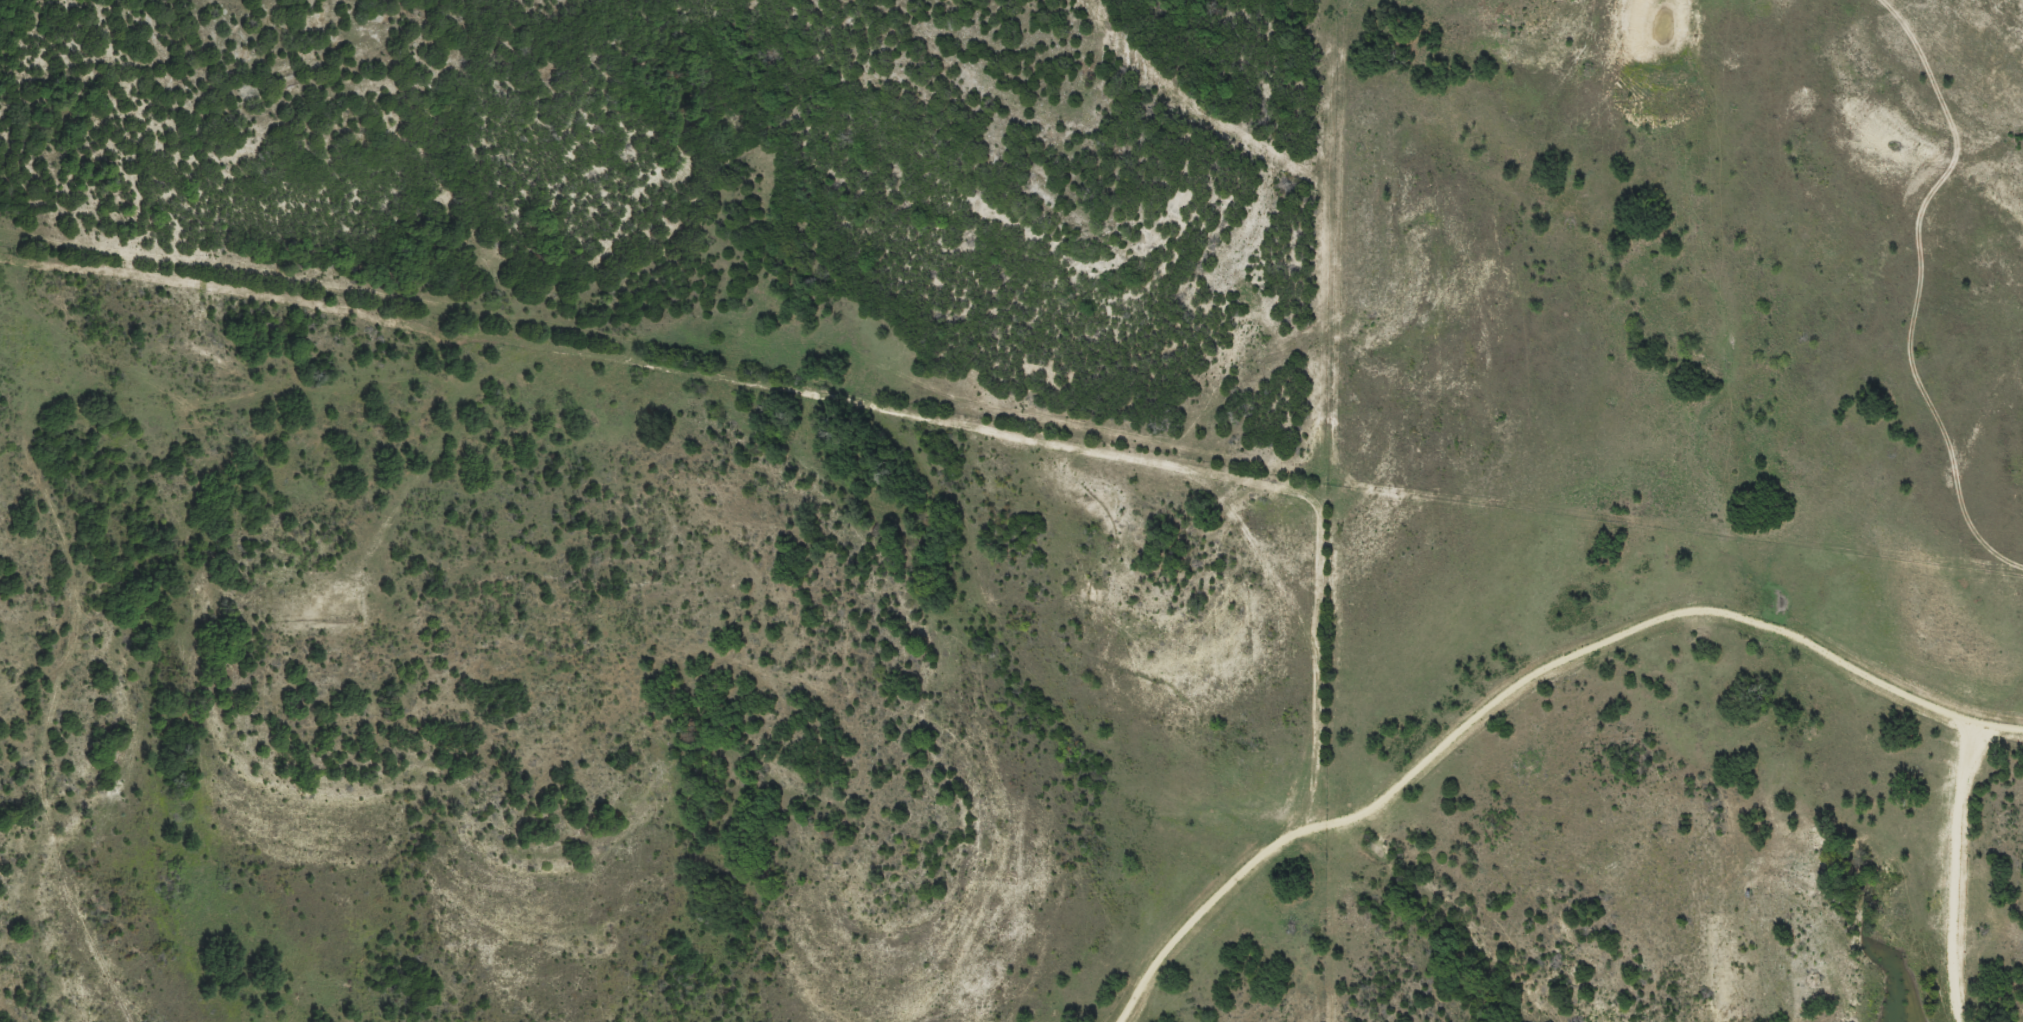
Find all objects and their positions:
road: (1650, 569)

